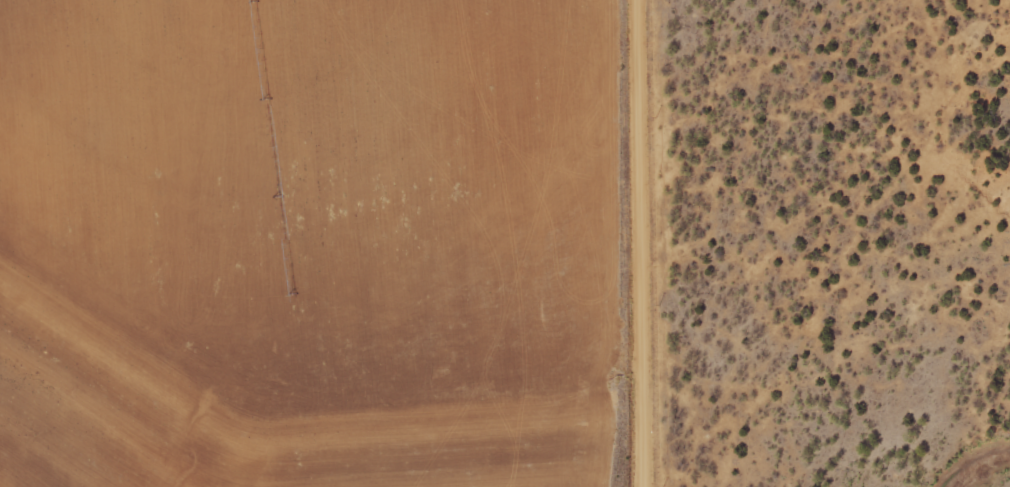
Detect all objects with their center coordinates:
road: (642, 243)

